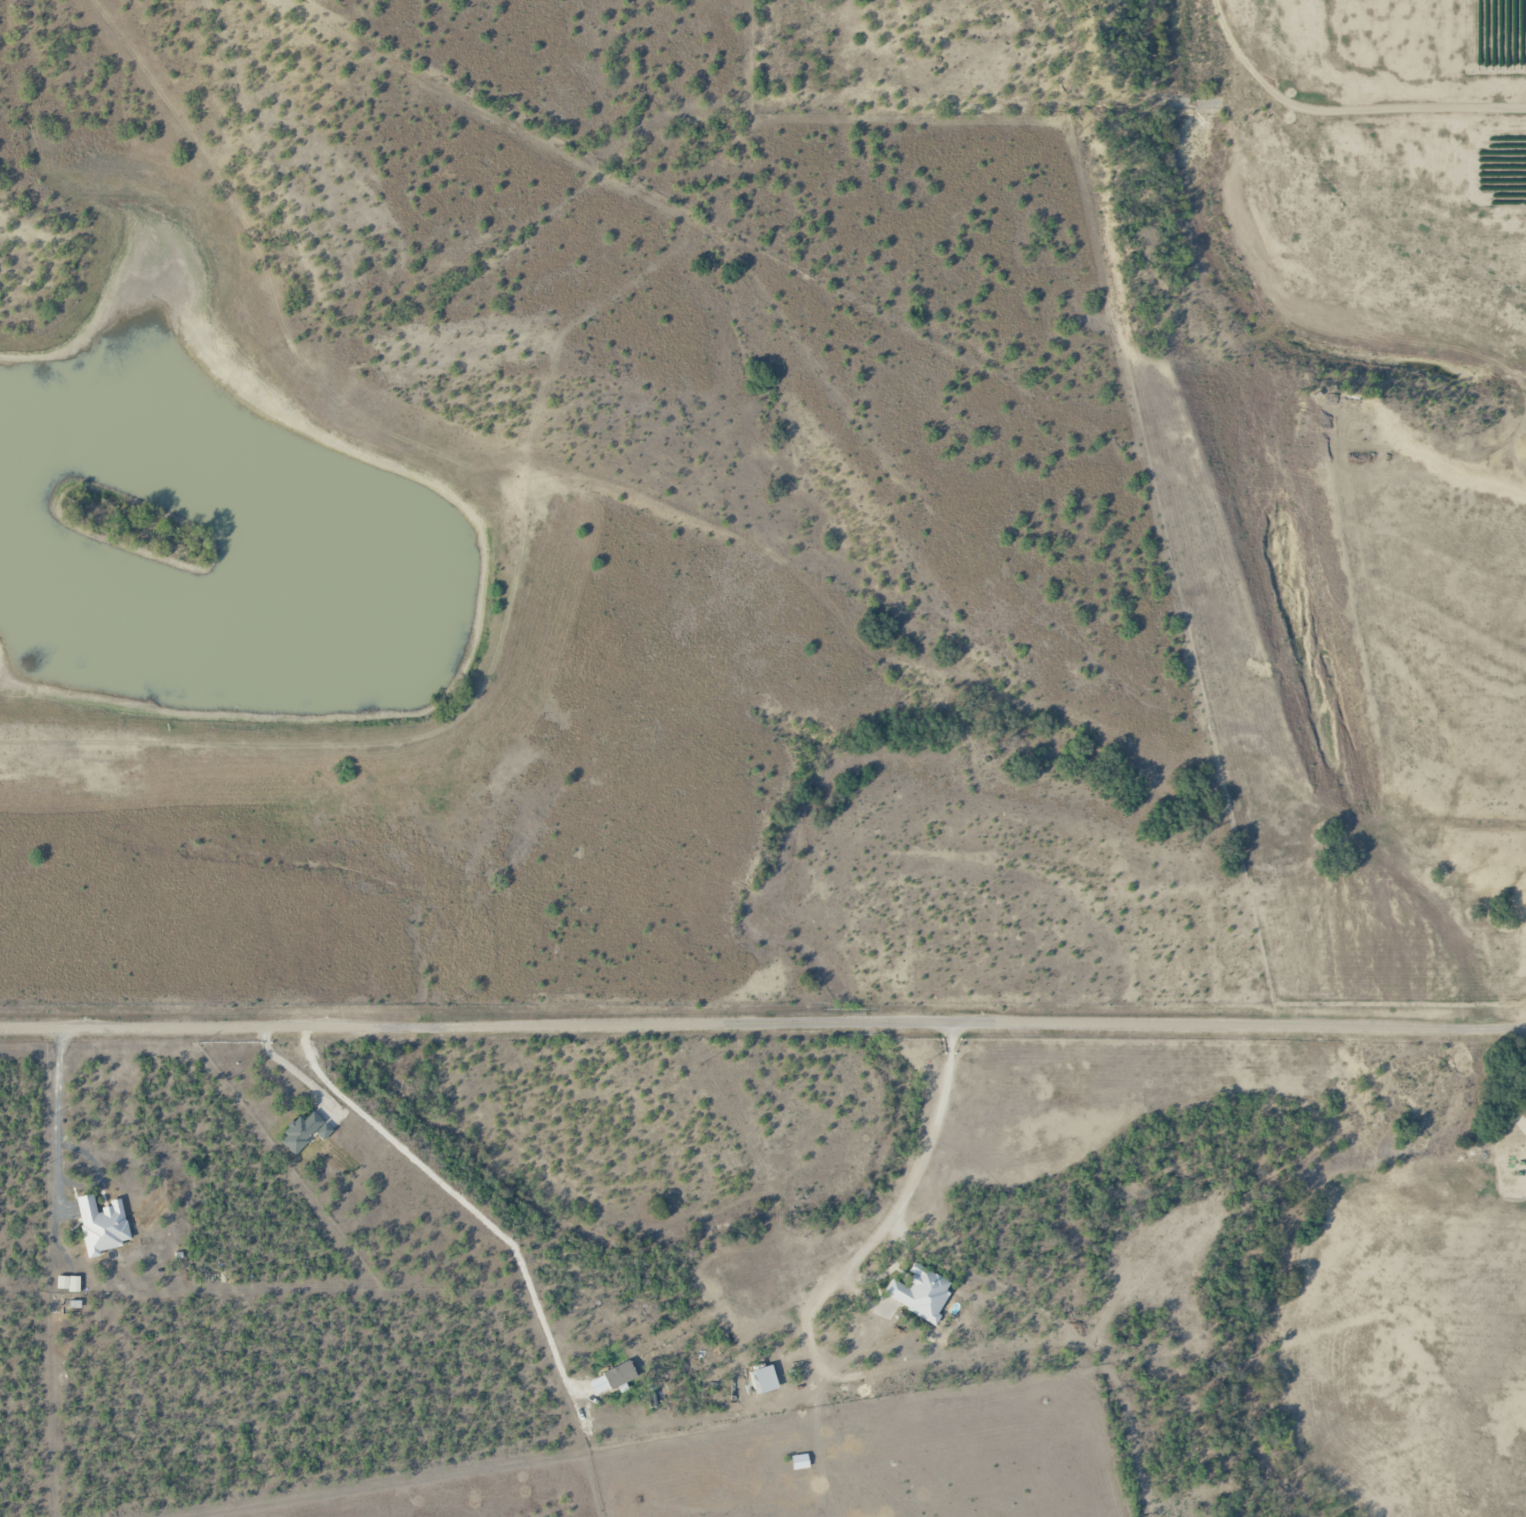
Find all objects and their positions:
road: (1341, 109)
dam: (267, 749)
road: (763, 1023)
building: (307, 1130)

